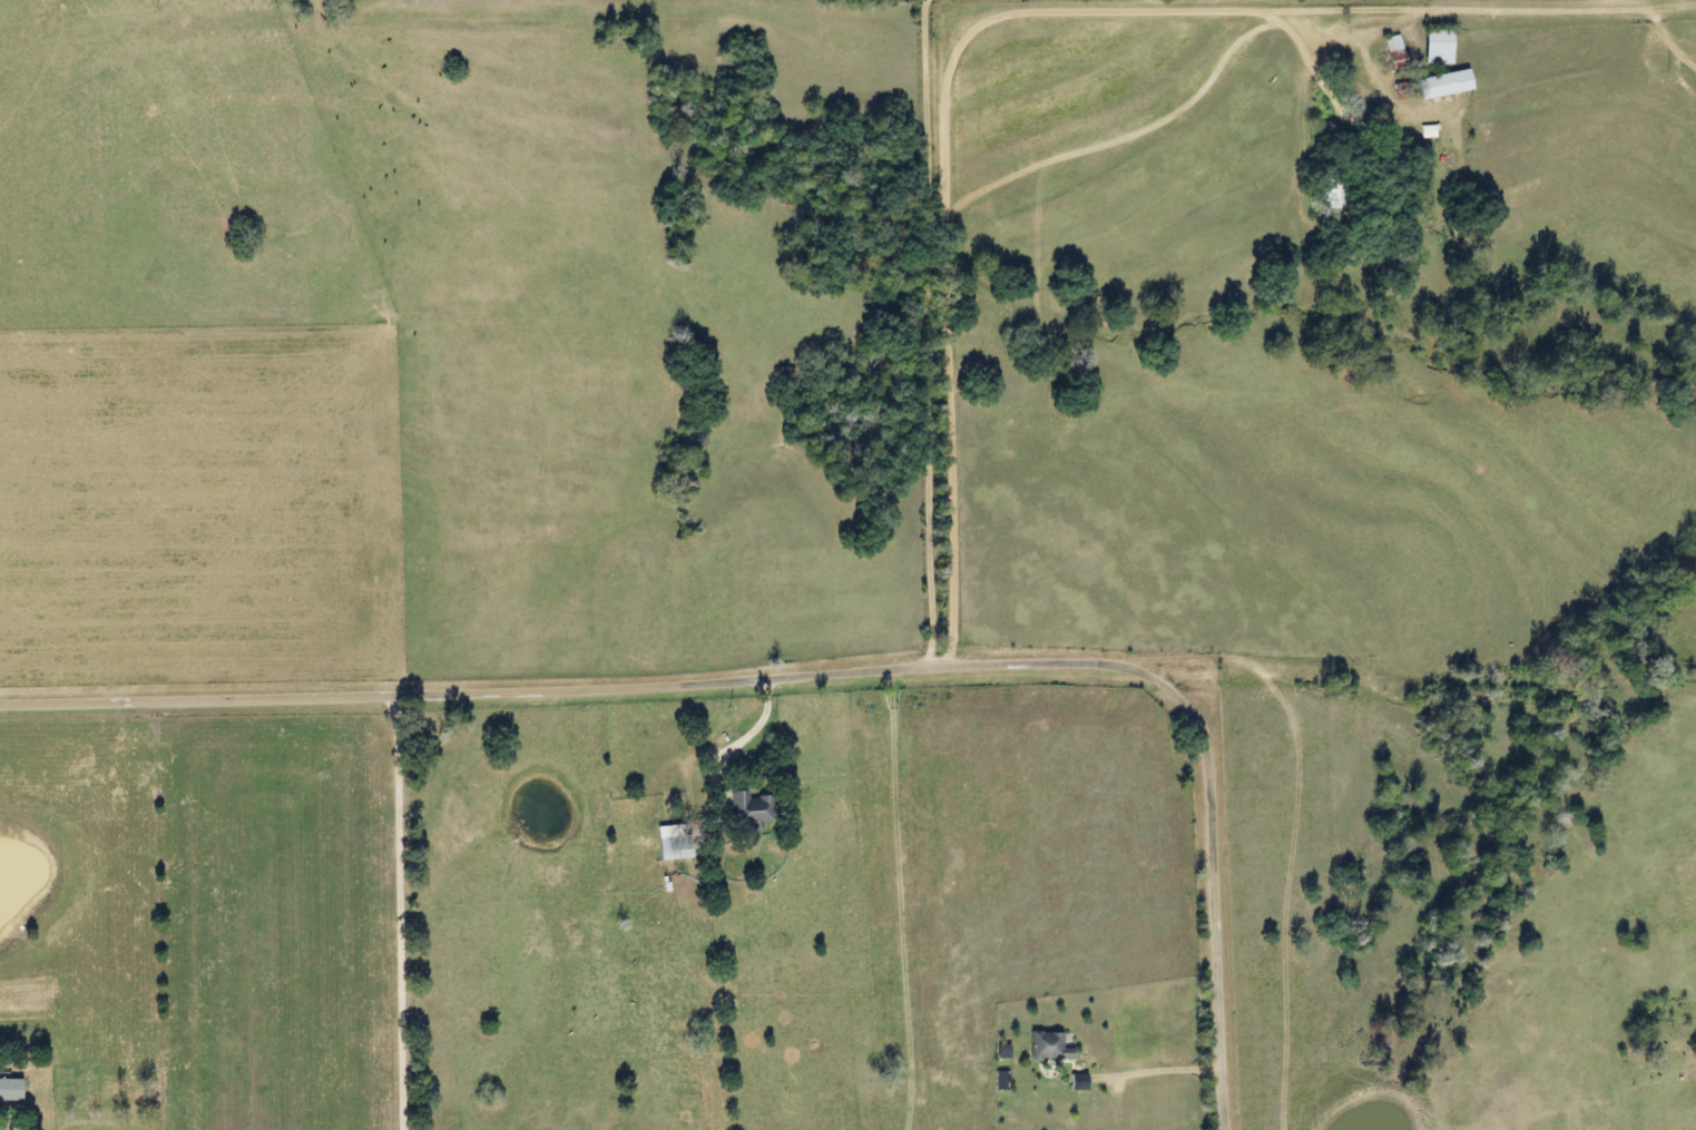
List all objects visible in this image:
road: (1019, 30)
building: (1389, 43)
building: (1433, 46)
building: (1439, 83)
road: (927, 333)
road: (595, 688)
building: (745, 812)
building: (669, 843)
road: (895, 900)
road: (1219, 906)
road: (402, 911)
building: (1045, 1048)
building: (8, 1090)

